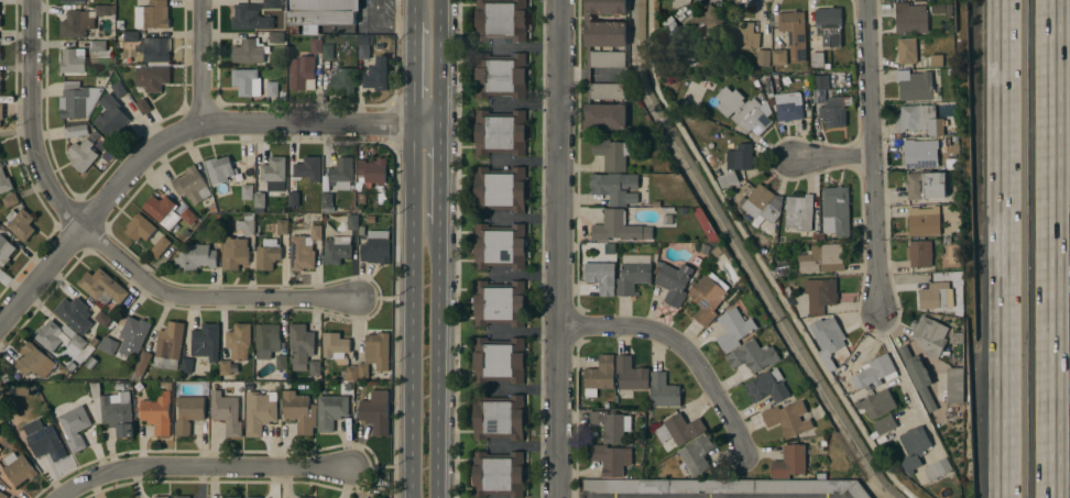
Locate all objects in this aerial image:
building: (73, 1)
road: (414, 12)
building: (319, 13)
building: (152, 14)
building: (255, 14)
building: (0, 16)
building: (501, 20)
building: (911, 20)
building: (83, 21)
building: (708, 22)
building: (829, 24)
building: (119, 25)
road: (381, 26)
building: (677, 30)
building: (790, 32)
building: (745, 34)
building: (99, 46)
building: (146, 46)
building: (315, 46)
building: (255, 48)
building: (363, 48)
building: (907, 51)
building: (328, 53)
building: (763, 57)
building: (778, 57)
building: (818, 59)
building: (73, 60)
road: (200, 60)
building: (936, 60)
road: (439, 63)
building: (604, 65)
building: (302, 73)
building: (376, 75)
road: (414, 75)
building: (500, 76)
building: (1, 78)
building: (153, 79)
building: (343, 80)
building: (245, 81)
building: (820, 82)
building: (915, 85)
building: (120, 90)
building: (272, 90)
building: (77, 100)
building: (143, 107)
building: (788, 107)
building: (743, 111)
building: (832, 113)
building: (0, 114)
building: (111, 115)
building: (919, 120)
road: (35, 122)
building: (76, 131)
building: (500, 132)
road: (179, 134)
building: (613, 153)
building: (920, 153)
building: (81, 155)
road: (874, 156)
building: (740, 157)
road: (833, 158)
building: (219, 169)
building: (273, 169)
building: (307, 170)
building: (341, 173)
building: (371, 173)
road: (438, 176)
building: (729, 179)
building: (4, 181)
building: (192, 186)
building: (925, 186)
building: (615, 188)
building: (380, 189)
building: (500, 189)
building: (248, 191)
building: (380, 196)
building: (361, 199)
building: (9, 200)
building: (259, 200)
building: (293, 200)
building: (327, 200)
building: (381, 203)
building: (763, 204)
building: (358, 210)
building: (168, 211)
building: (836, 211)
building: (799, 212)
building: (371, 220)
building: (924, 221)
building: (353, 222)
building: (20, 223)
building: (247, 224)
building: (140, 228)
building: (283, 228)
building: (618, 228)
building: (316, 233)
building: (499, 246)
building: (160, 247)
building: (375, 247)
road: (560, 248)
road: (1003, 248)
road: (1047, 248)
building: (4, 250)
building: (337, 250)
building: (234, 253)
building: (267, 254)
building: (301, 254)
building: (918, 254)
building: (196, 257)
building: (823, 259)
building: (784, 268)
building: (601, 277)
building: (633, 277)
building: (674, 283)
building: (102, 287)
building: (820, 295)
building: (936, 296)
road: (207, 297)
building: (707, 299)
building: (499, 303)
road: (412, 311)
building: (75, 314)
building: (102, 319)
building: (733, 330)
building: (57, 336)
building: (129, 336)
building: (930, 336)
building: (267, 340)
building: (828, 341)
building: (95, 342)
building: (205, 342)
building: (335, 345)
building: (168, 346)
building: (301, 346)
road: (684, 348)
building: (236, 350)
building: (375, 354)
building: (753, 356)
building: (499, 361)
building: (34, 362)
road: (437, 362)
building: (142, 363)
building: (281, 363)
building: (91, 364)
building: (69, 366)
building: (186, 366)
building: (314, 368)
building: (874, 370)
building: (351, 374)
building: (631, 374)
building: (600, 375)
building: (245, 376)
building: (918, 376)
building: (0, 384)
road: (906, 385)
building: (954, 386)
building: (119, 387)
building: (765, 388)
building: (663, 390)
building: (877, 403)
building: (112, 410)
building: (156, 411)
building: (260, 411)
building: (299, 411)
building: (330, 411)
building: (375, 411)
building: (227, 412)
building: (188, 413)
building: (499, 417)
building: (787, 419)
building: (884, 424)
building: (75, 425)
building: (612, 425)
building: (679, 430)
building: (44, 440)
building: (914, 449)
building: (0, 451)
building: (697, 455)
building: (612, 460)
building: (789, 462)
building: (19, 468)
building: (938, 469)
road: (205, 471)
building: (498, 474)
building: (626, 486)
building: (769, 487)
building: (2, 495)
building: (163, 497)
building: (182, 497)
building: (232, 497)
building: (253, 497)
building: (307, 497)

